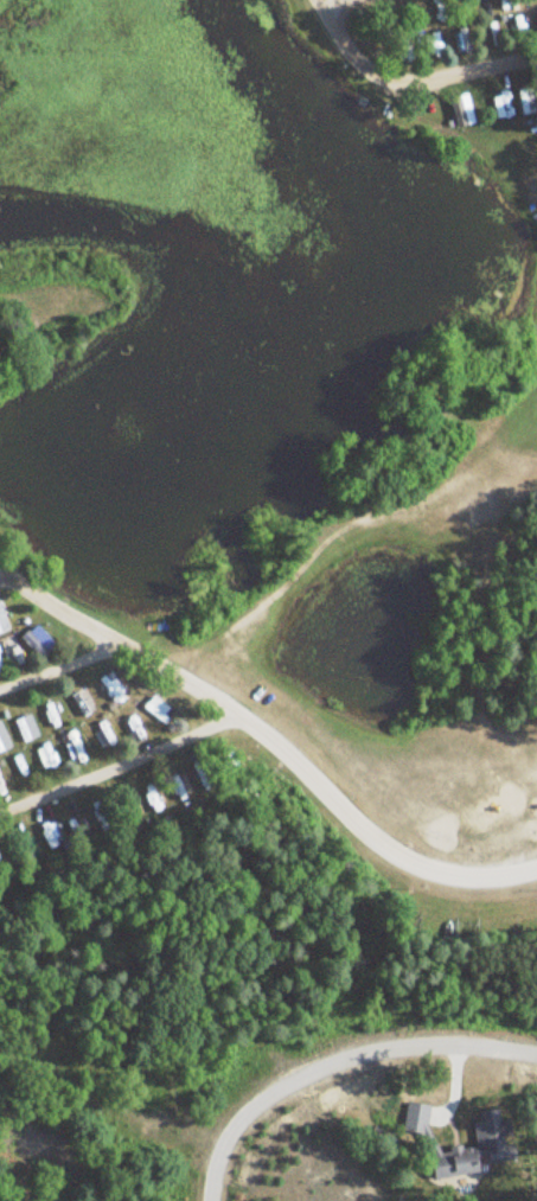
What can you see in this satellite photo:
road: (322, 1)
building: (442, 9)
building: (461, 38)
road: (408, 81)
building: (503, 103)
building: (464, 109)
park: (509, 437)
building: (2, 618)
building: (39, 640)
building: (111, 689)
building: (159, 709)
building: (50, 716)
building: (26, 728)
building: (139, 729)
building: (106, 734)
road: (274, 736)
building: (4, 739)
building: (77, 743)
park: (445, 799)
building: (49, 838)
road: (334, 1059)
building: (418, 1117)
building: (486, 1144)

